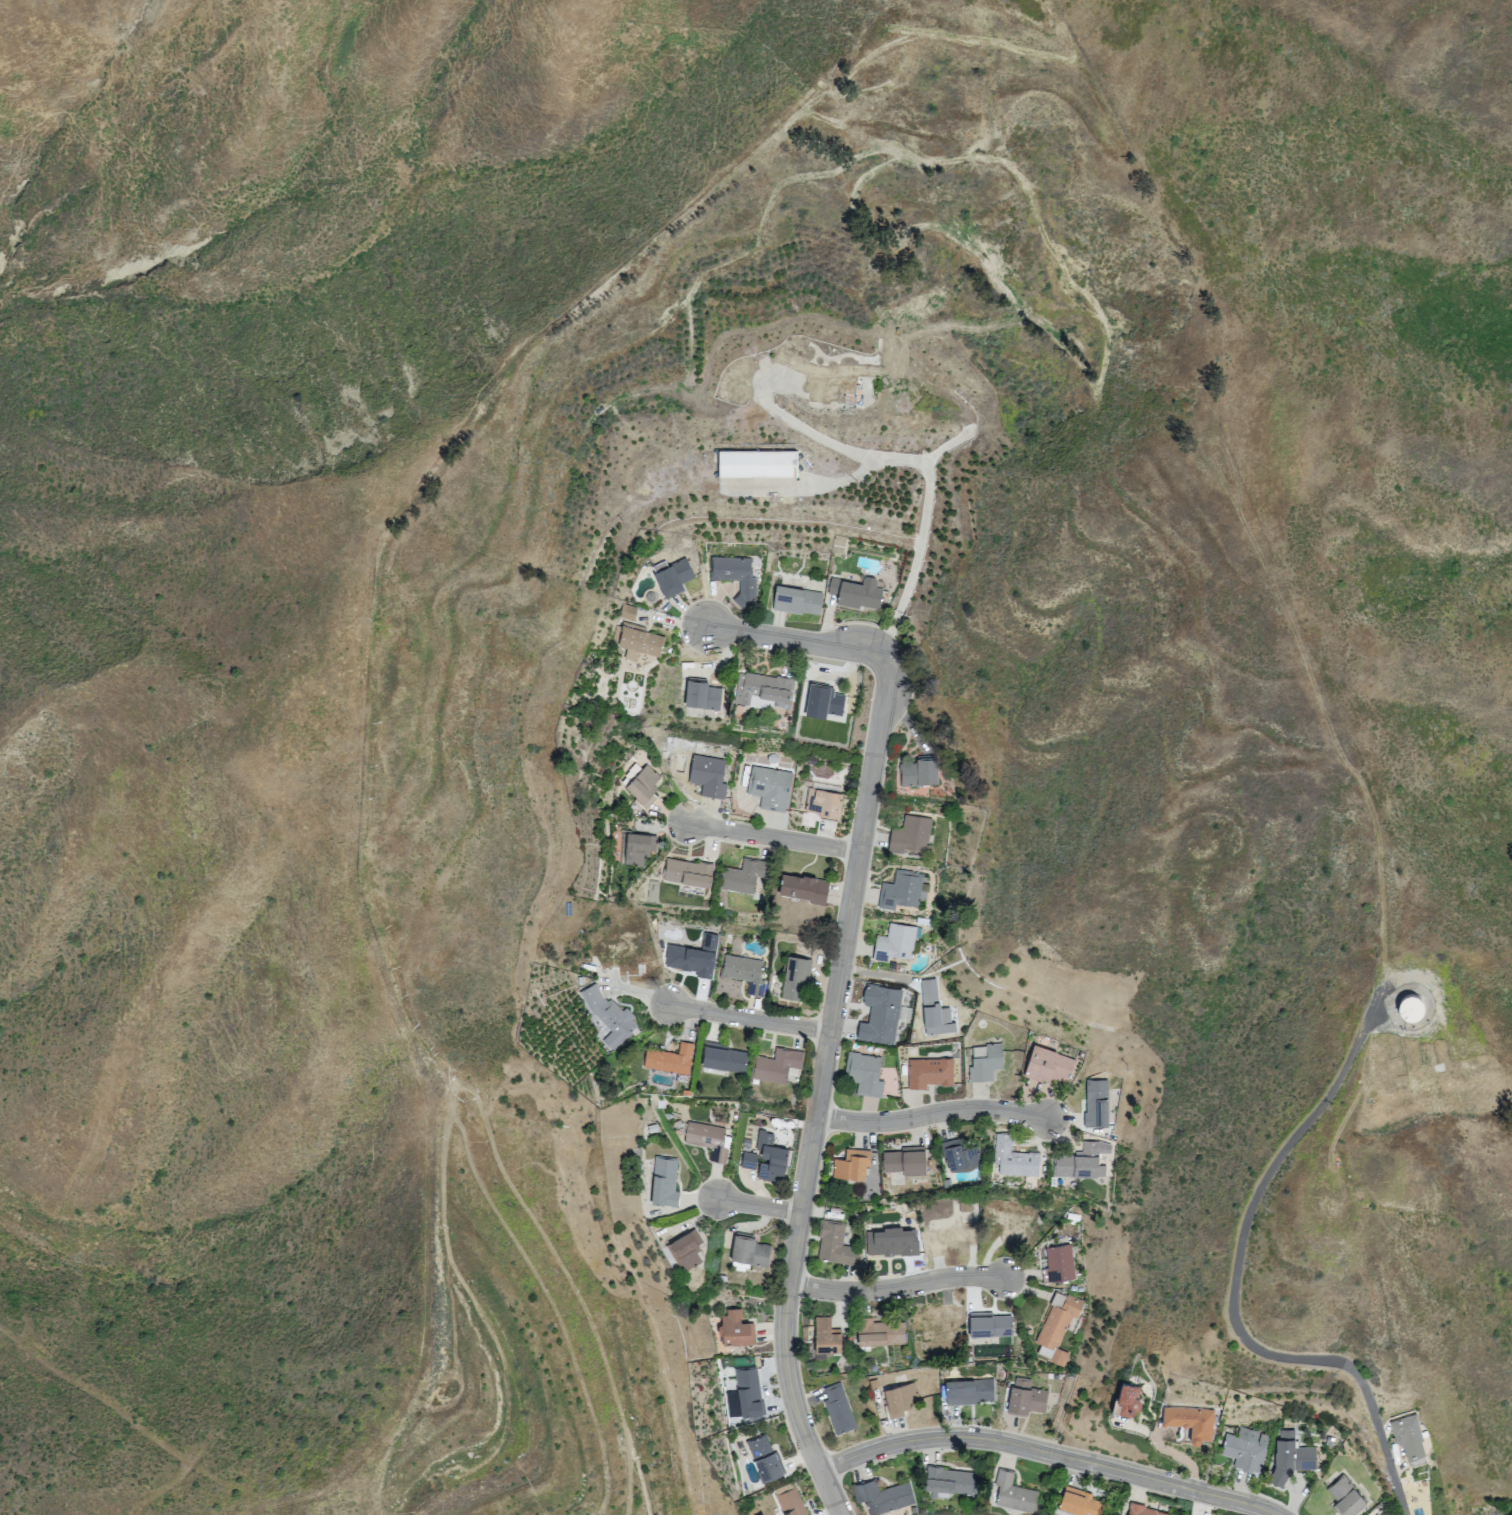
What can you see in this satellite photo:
building: (799, 354)
building: (871, 370)
building: (833, 381)
building: (735, 391)
building: (758, 467)
road: (924, 523)
building: (673, 577)
building: (738, 578)
building: (857, 594)
building: (797, 600)
building: (630, 613)
building: (641, 641)
road: (804, 642)
building: (769, 689)
building: (704, 696)
building: (824, 703)
building: (920, 772)
building: (629, 775)
building: (710, 777)
building: (644, 787)
building: (772, 788)
building: (824, 803)
building: (911, 835)
road: (773, 838)
building: (640, 849)
building: (689, 873)
building: (744, 877)
building: (806, 888)
building: (901, 891)
building: (728, 940)
building: (895, 943)
building: (695, 954)
building: (746, 974)
building: (797, 979)
building: (1452, 1007)
building: (936, 1010)
building: (1415, 1010)
storage tank: (1415, 1010)
building: (880, 1015)
building: (610, 1018)
road: (750, 1019)
building: (724, 1059)
building: (671, 1061)
building: (778, 1066)
building: (989, 1066)
building: (1050, 1068)
building: (866, 1075)
building: (934, 1076)
road: (820, 1094)
building: (1099, 1106)
road: (932, 1114)
building: (710, 1140)
building: (961, 1154)
building: (1015, 1158)
building: (771, 1159)
building: (750, 1160)
building: (907, 1161)
building: (1084, 1162)
building: (854, 1164)
building: (665, 1182)
building: (967, 1205)
road: (760, 1207)
building: (838, 1245)
building: (688, 1250)
building: (751, 1252)
building: (1061, 1265)
road: (896, 1289)
road: (1240, 1290)
building: (991, 1326)
building: (737, 1330)
building: (1060, 1330)
building: (881, 1333)
building: (828, 1337)
building: (1045, 1377)
building: (750, 1393)
building: (971, 1393)
building: (1028, 1399)
building: (902, 1400)
building: (1129, 1401)
building: (840, 1410)
building: (1194, 1423)
road: (1135, 1428)
building: (1408, 1441)
road: (1048, 1452)
building: (1248, 1452)
road: (1178, 1457)
building: (765, 1458)
building: (1293, 1459)
building: (951, 1481)
building: (1015, 1493)
building: (886, 1498)
building: (1349, 1498)
building: (791, 1501)
building: (1081, 1504)
building: (1144, 1511)

